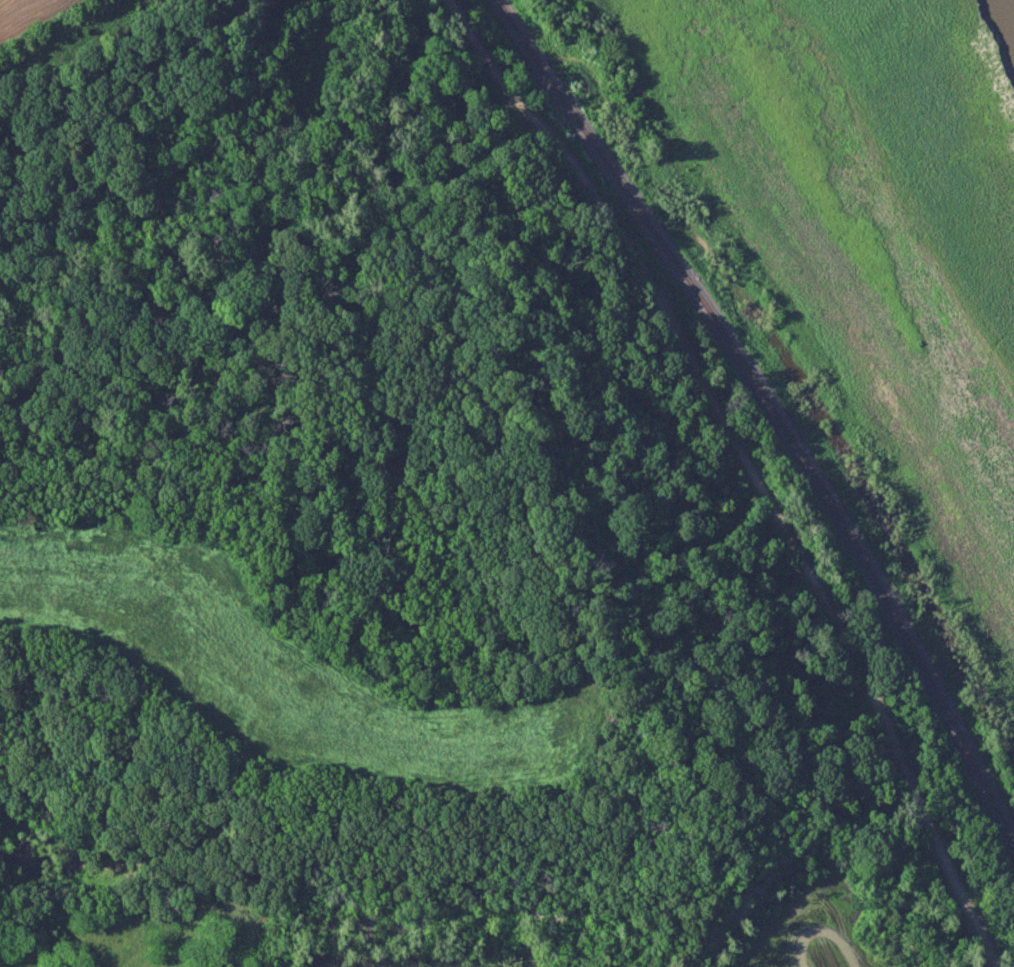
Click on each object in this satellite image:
railway: (773, 412)
road: (748, 470)

